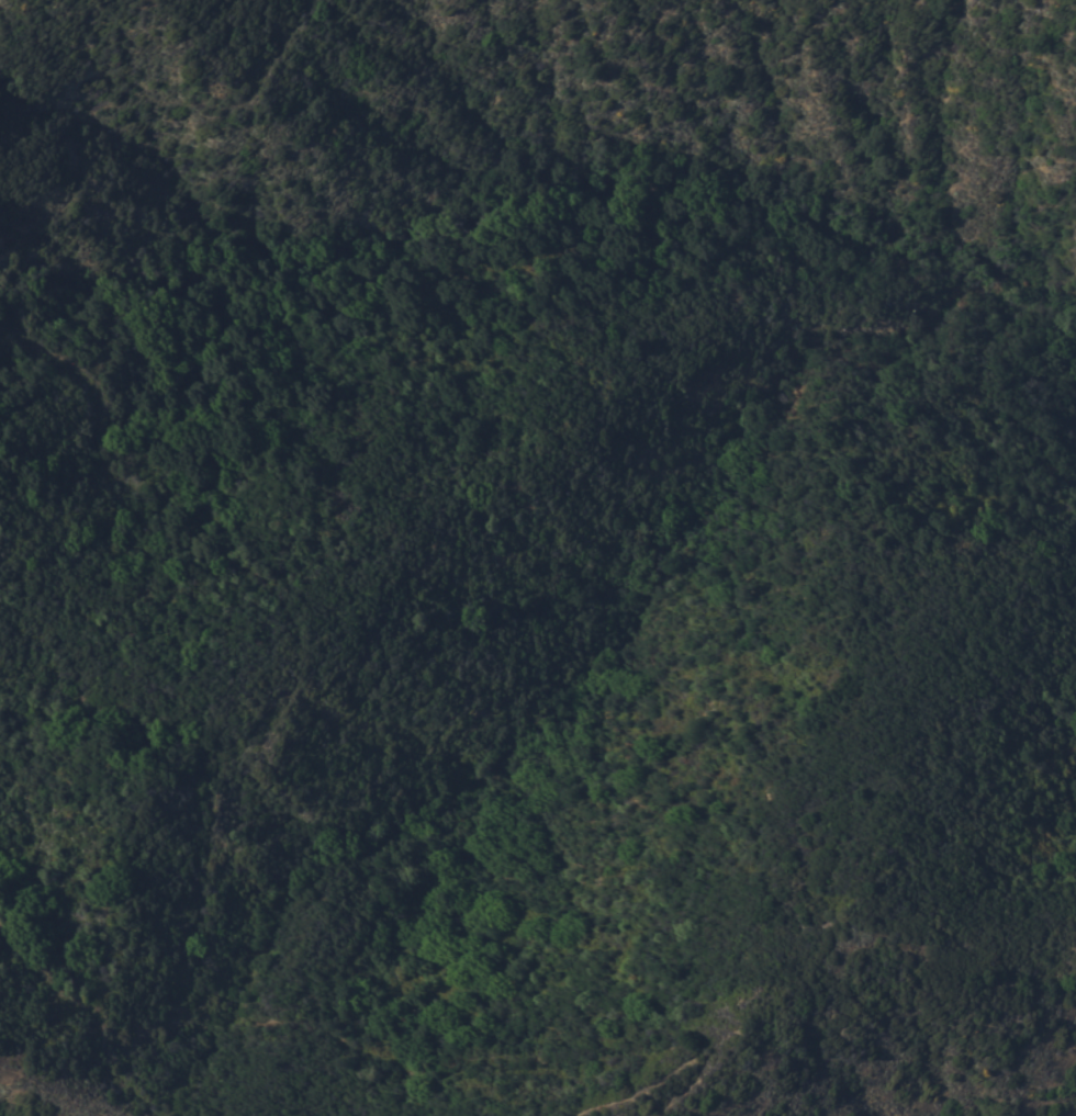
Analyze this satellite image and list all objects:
road: (258, 401)
road: (88, 997)
road: (695, 1018)

